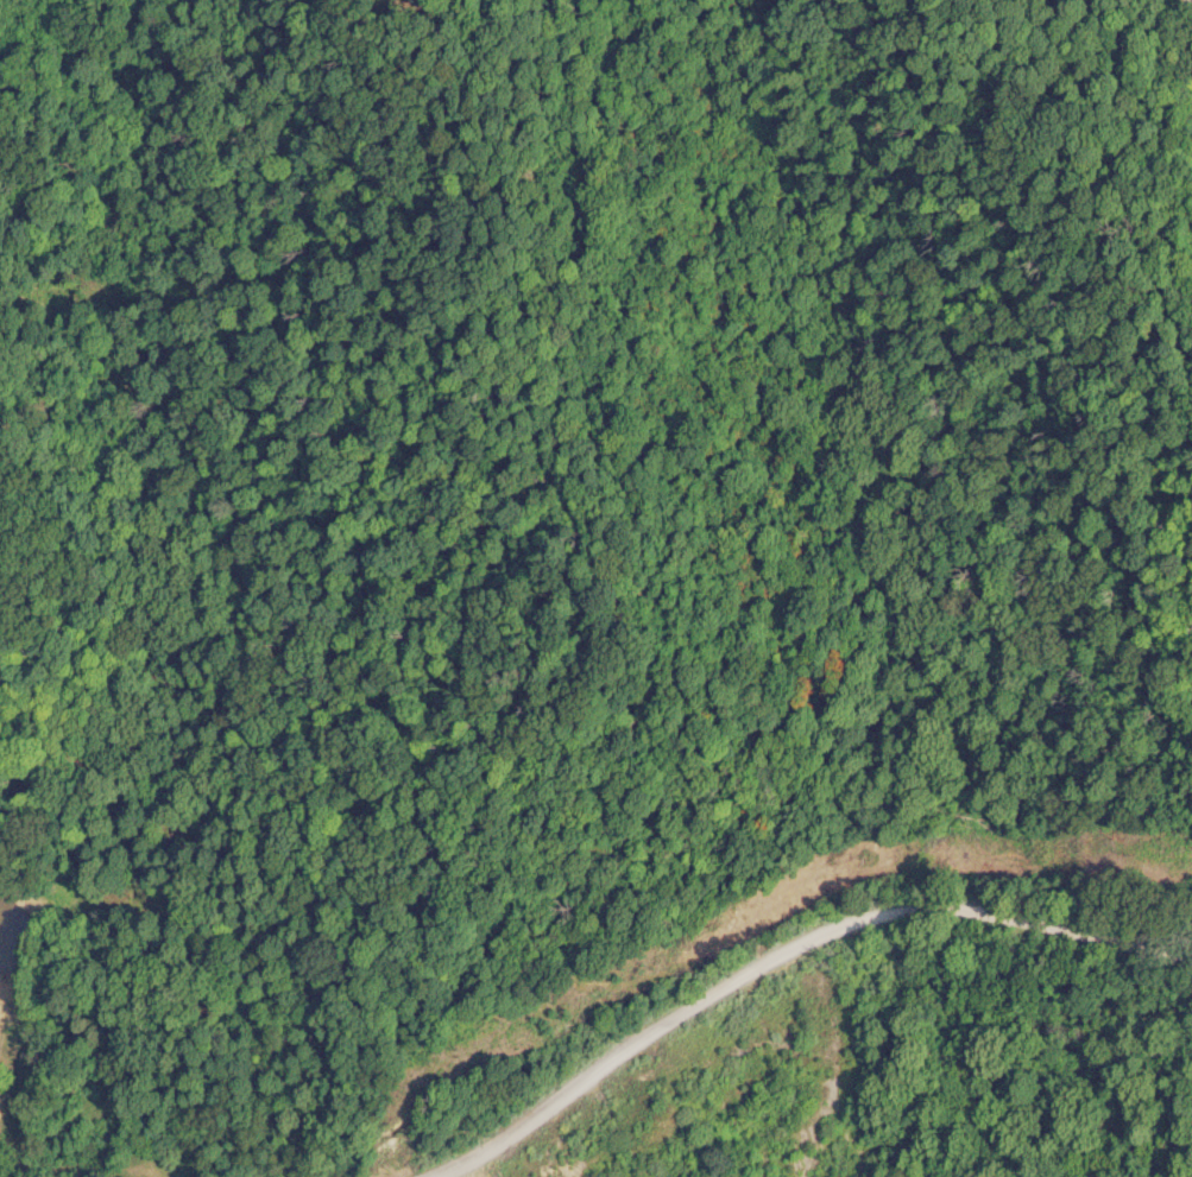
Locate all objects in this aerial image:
road: (1191, 0)
road: (778, 950)

